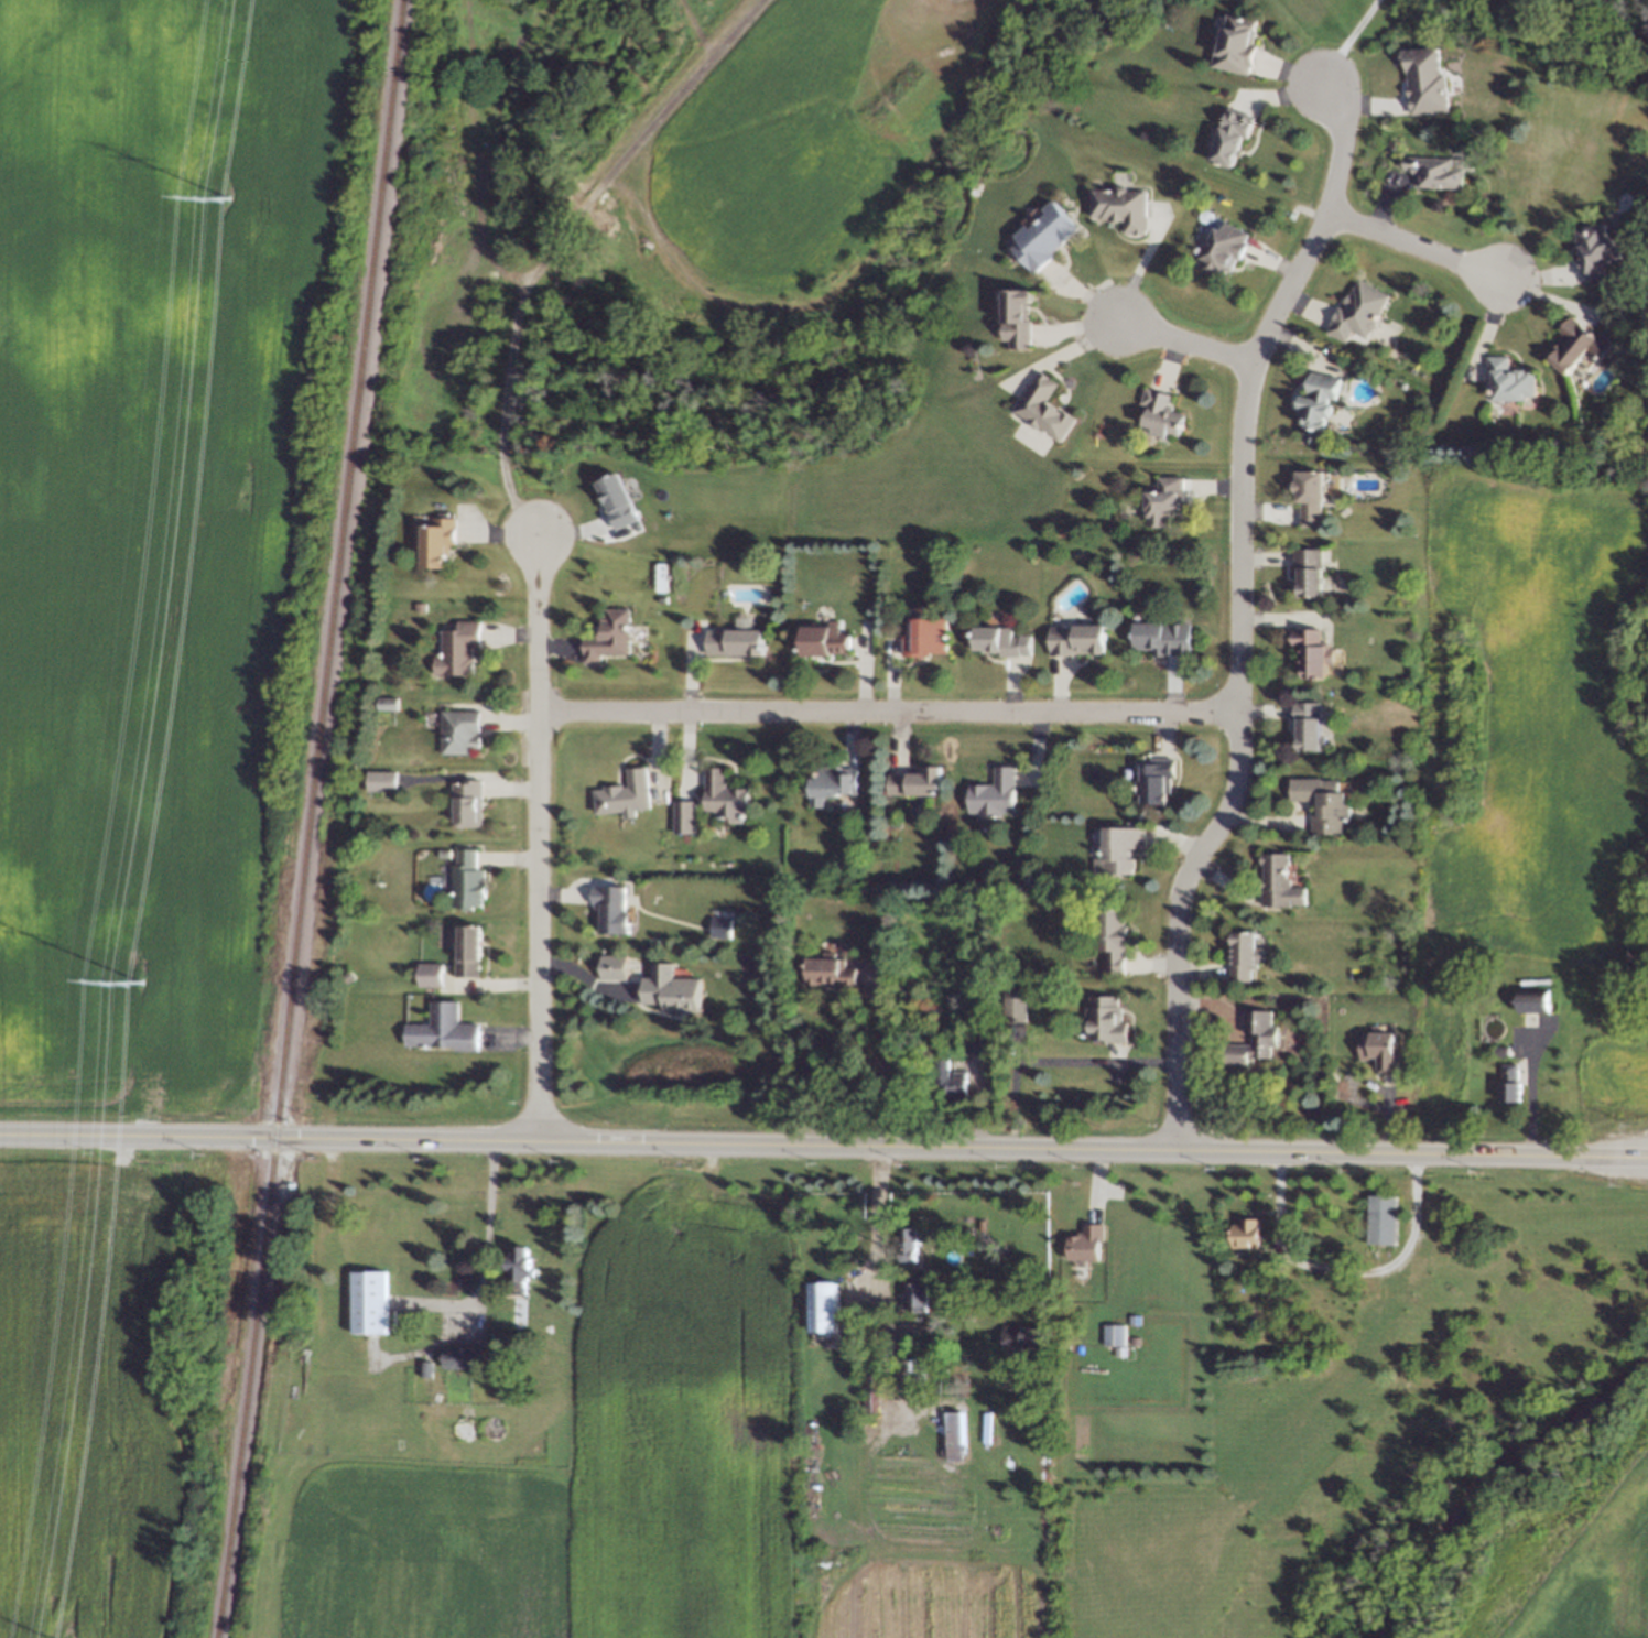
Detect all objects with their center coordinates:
road: (1343, 41)
building: (1240, 45)
building: (1424, 83)
building: (1229, 140)
building: (1432, 173)
power tower: (224, 198)
building: (1121, 210)
road: (556, 239)
building: (1045, 241)
building: (1221, 247)
road: (1411, 247)
building: (1594, 252)
building: (1355, 317)
building: (1017, 321)
road: (1180, 340)
building: (1579, 347)
building: (1509, 383)
building: (1315, 410)
building: (1042, 412)
building: (1158, 419)
building: (1311, 489)
building: (618, 502)
building: (1161, 503)
building: (441, 545)
building: (1309, 566)
building: (422, 608)
road: (1234, 609)
building: (991, 632)
building: (820, 634)
building: (1153, 634)
building: (1076, 637)
building: (928, 638)
building: (607, 642)
building: (735, 646)
building: (460, 650)
building: (1310, 657)
building: (389, 705)
road: (883, 706)
building: (1309, 726)
building: (459, 739)
building: (832, 778)
building: (1150, 778)
building: (911, 779)
building: (381, 782)
building: (991, 789)
building: (1321, 795)
building: (627, 800)
building: (725, 803)
building: (466, 806)
building: (683, 816)
railway: (304, 818)
road: (539, 831)
building: (1115, 846)
building: (445, 855)
building: (1272, 871)
building: (468, 888)
building: (610, 911)
building: (722, 931)
building: (1246, 945)
building: (1114, 948)
building: (469, 958)
building: (614, 972)
building: (349, 976)
building: (831, 976)
building: (431, 977)
power tower: (135, 979)
building: (671, 991)
building: (1495, 995)
building: (1537, 999)
building: (1015, 1011)
building: (1105, 1023)
building: (442, 1032)
building: (984, 1043)
building: (1251, 1046)
building: (1504, 1049)
building: (1376, 1051)
road: (871, 1056)
road: (1052, 1059)
building: (1514, 1083)
building: (959, 1084)
road: (1527, 1094)
road: (68, 1136)
road: (892, 1142)
building: (1381, 1221)
road: (485, 1225)
building: (1244, 1235)
building: (1083, 1240)
road: (872, 1243)
building: (909, 1243)
building: (520, 1261)
road: (1346, 1268)
building: (917, 1291)
building: (371, 1303)
building: (825, 1312)
building: (511, 1319)
building: (1115, 1337)
building: (1023, 1341)
building: (933, 1346)
building: (467, 1362)
building: (430, 1368)
building: (946, 1369)
building: (912, 1376)
building: (872, 1392)
building: (954, 1443)

